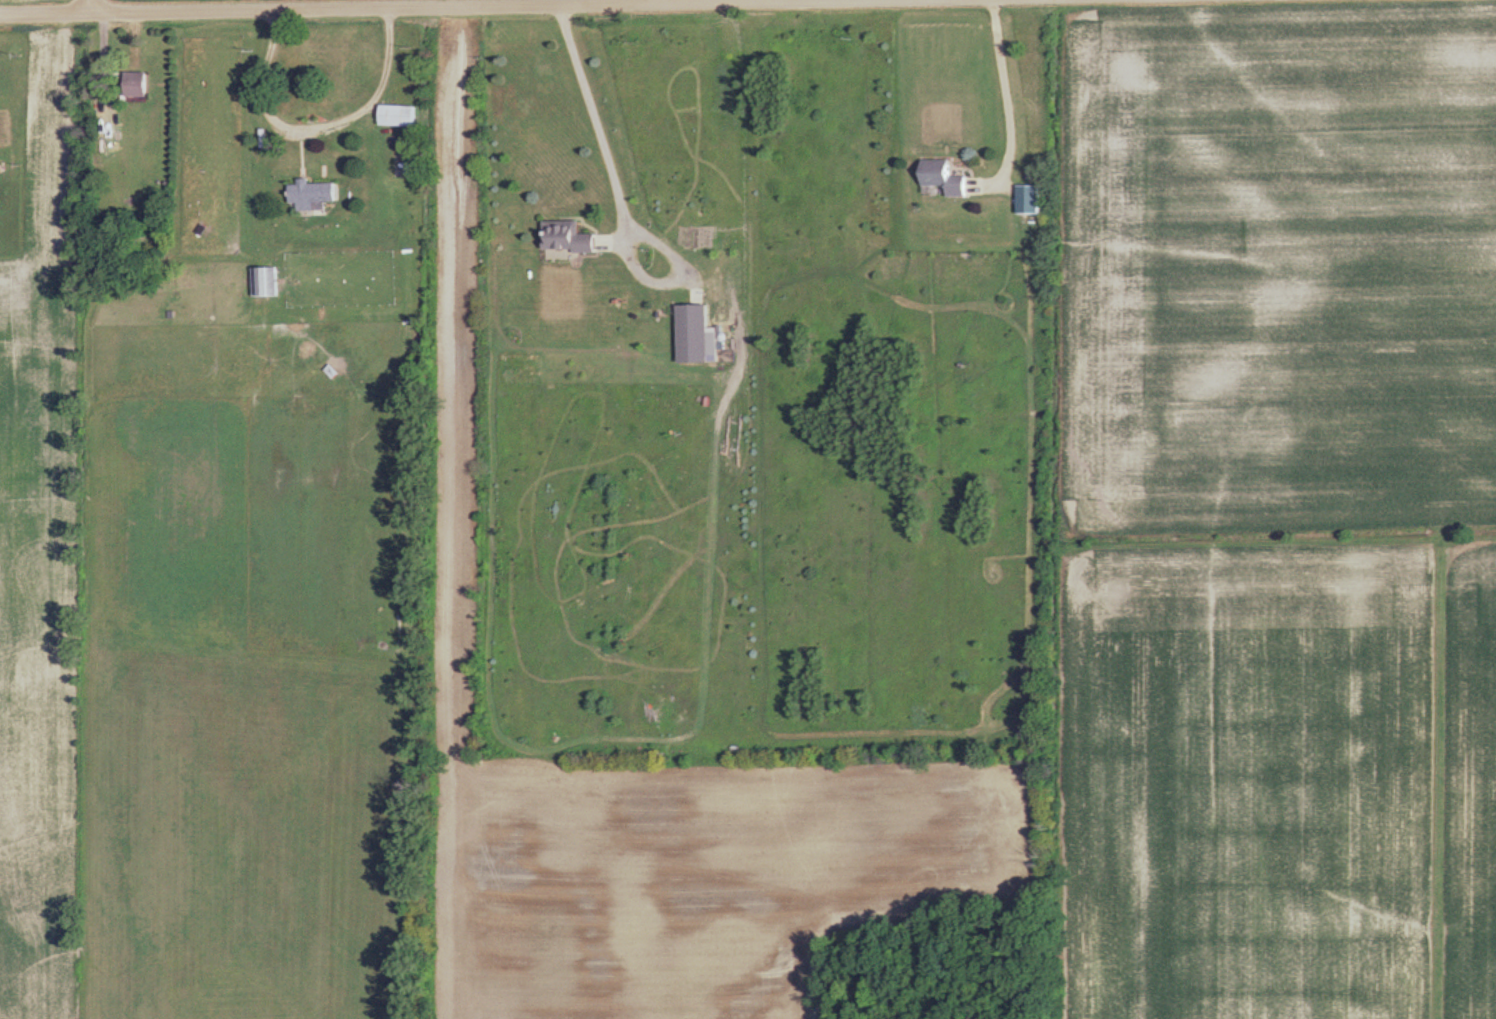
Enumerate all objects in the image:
road: (93, 4)
road: (301, 5)
building: (143, 85)
road: (1004, 101)
building: (404, 116)
road: (590, 116)
road: (314, 125)
building: (1035, 173)
building: (949, 177)
building: (317, 194)
building: (572, 238)
building: (270, 283)
building: (697, 334)

